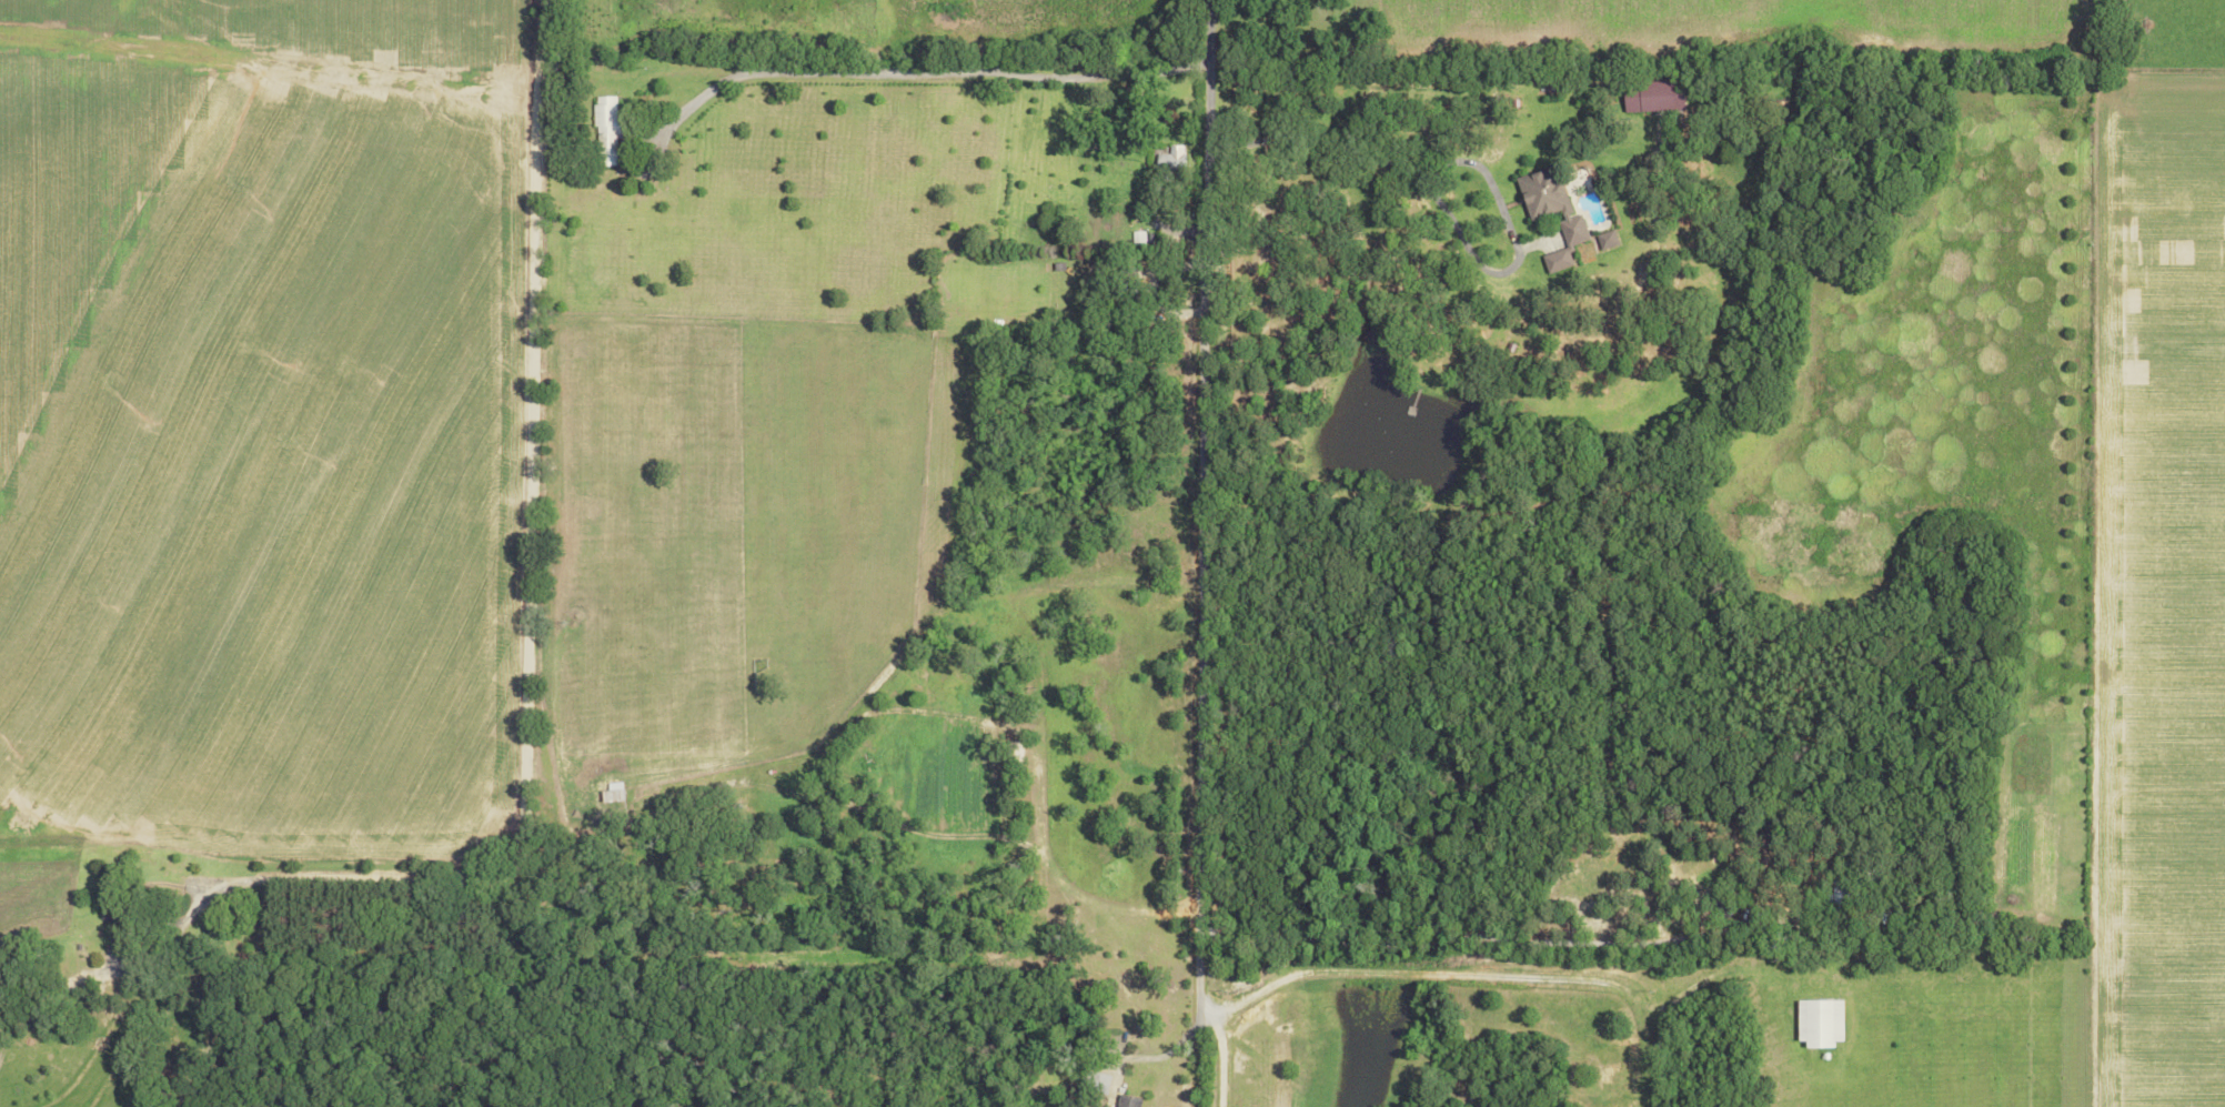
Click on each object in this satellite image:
road: (919, 71)
building: (1653, 97)
building: (605, 129)
building: (1171, 160)
building: (1552, 213)
road: (1197, 509)
road: (521, 594)
road: (1474, 974)
road: (1202, 1020)
building: (1819, 1022)
road: (1217, 1065)
building: (1128, 1101)

